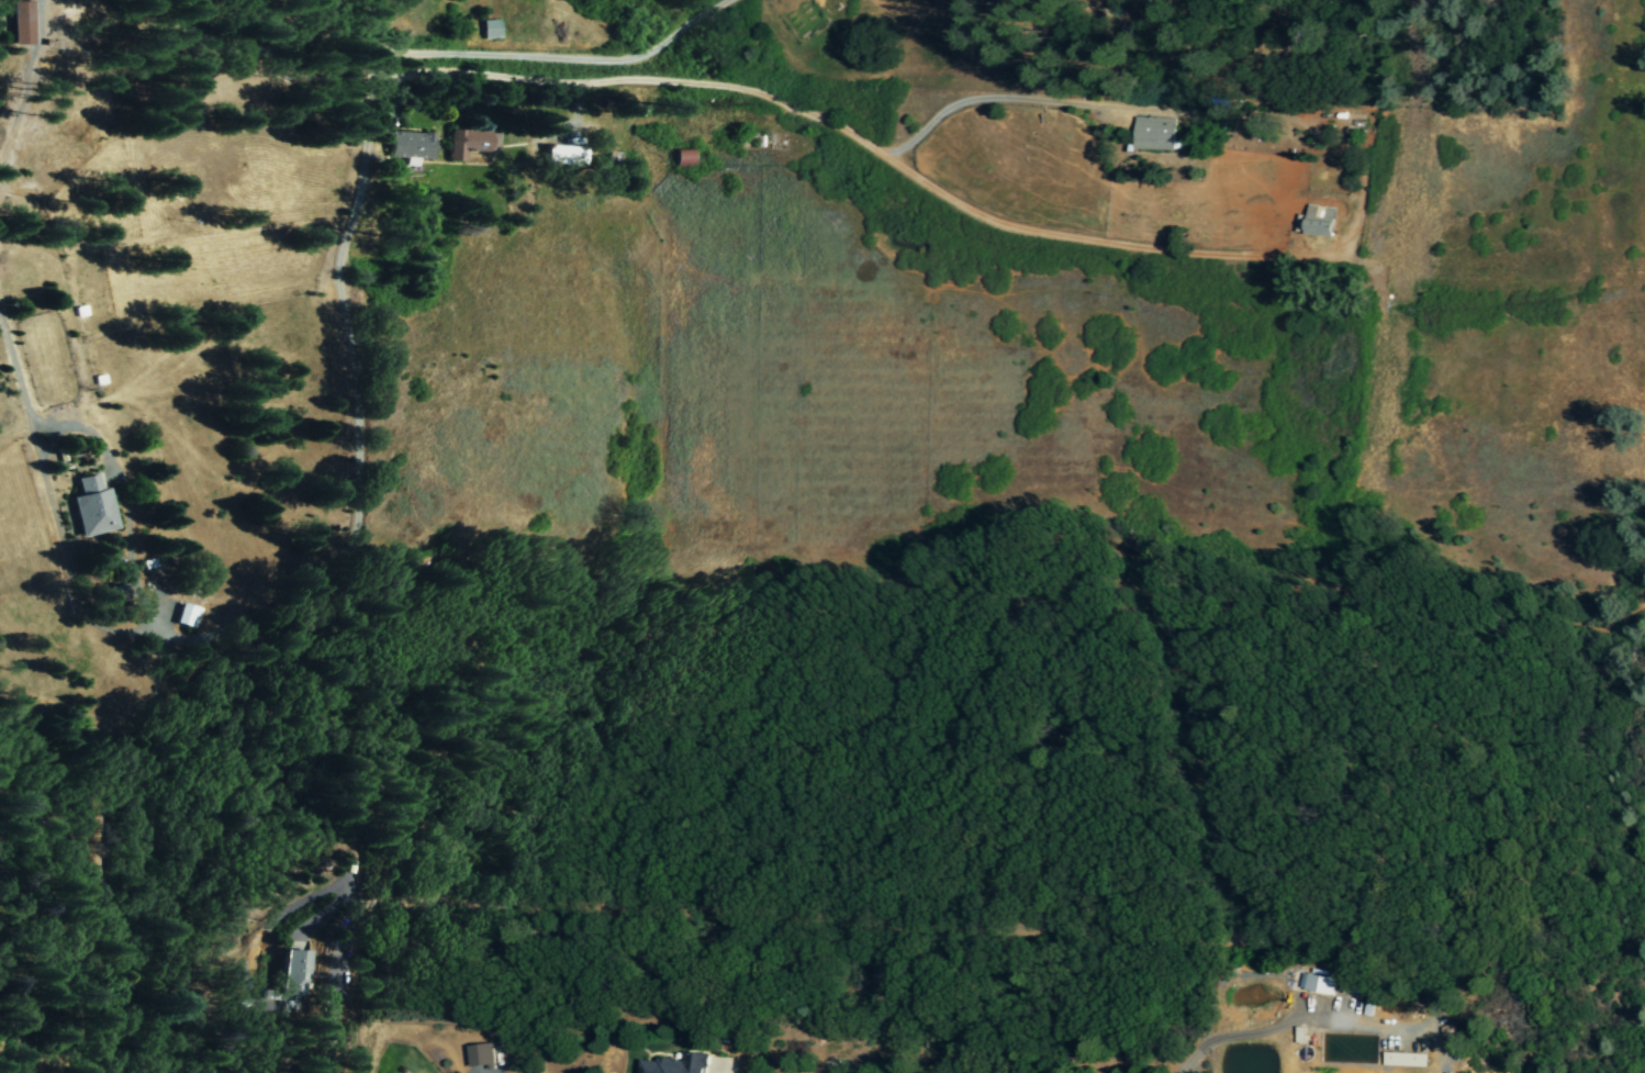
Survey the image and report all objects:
building: (19, 22)
building: (489, 31)
road: (369, 45)
road: (553, 57)
road: (972, 99)
building: (1154, 135)
road: (852, 136)
building: (406, 146)
building: (470, 148)
building: (563, 156)
building: (681, 159)
building: (1318, 222)
building: (90, 508)
building: (184, 617)
road: (809, 919)
building: (292, 975)
building: (1316, 985)
road: (1320, 1016)
road: (164, 1048)
building: (1402, 1060)
building: (673, 1065)

